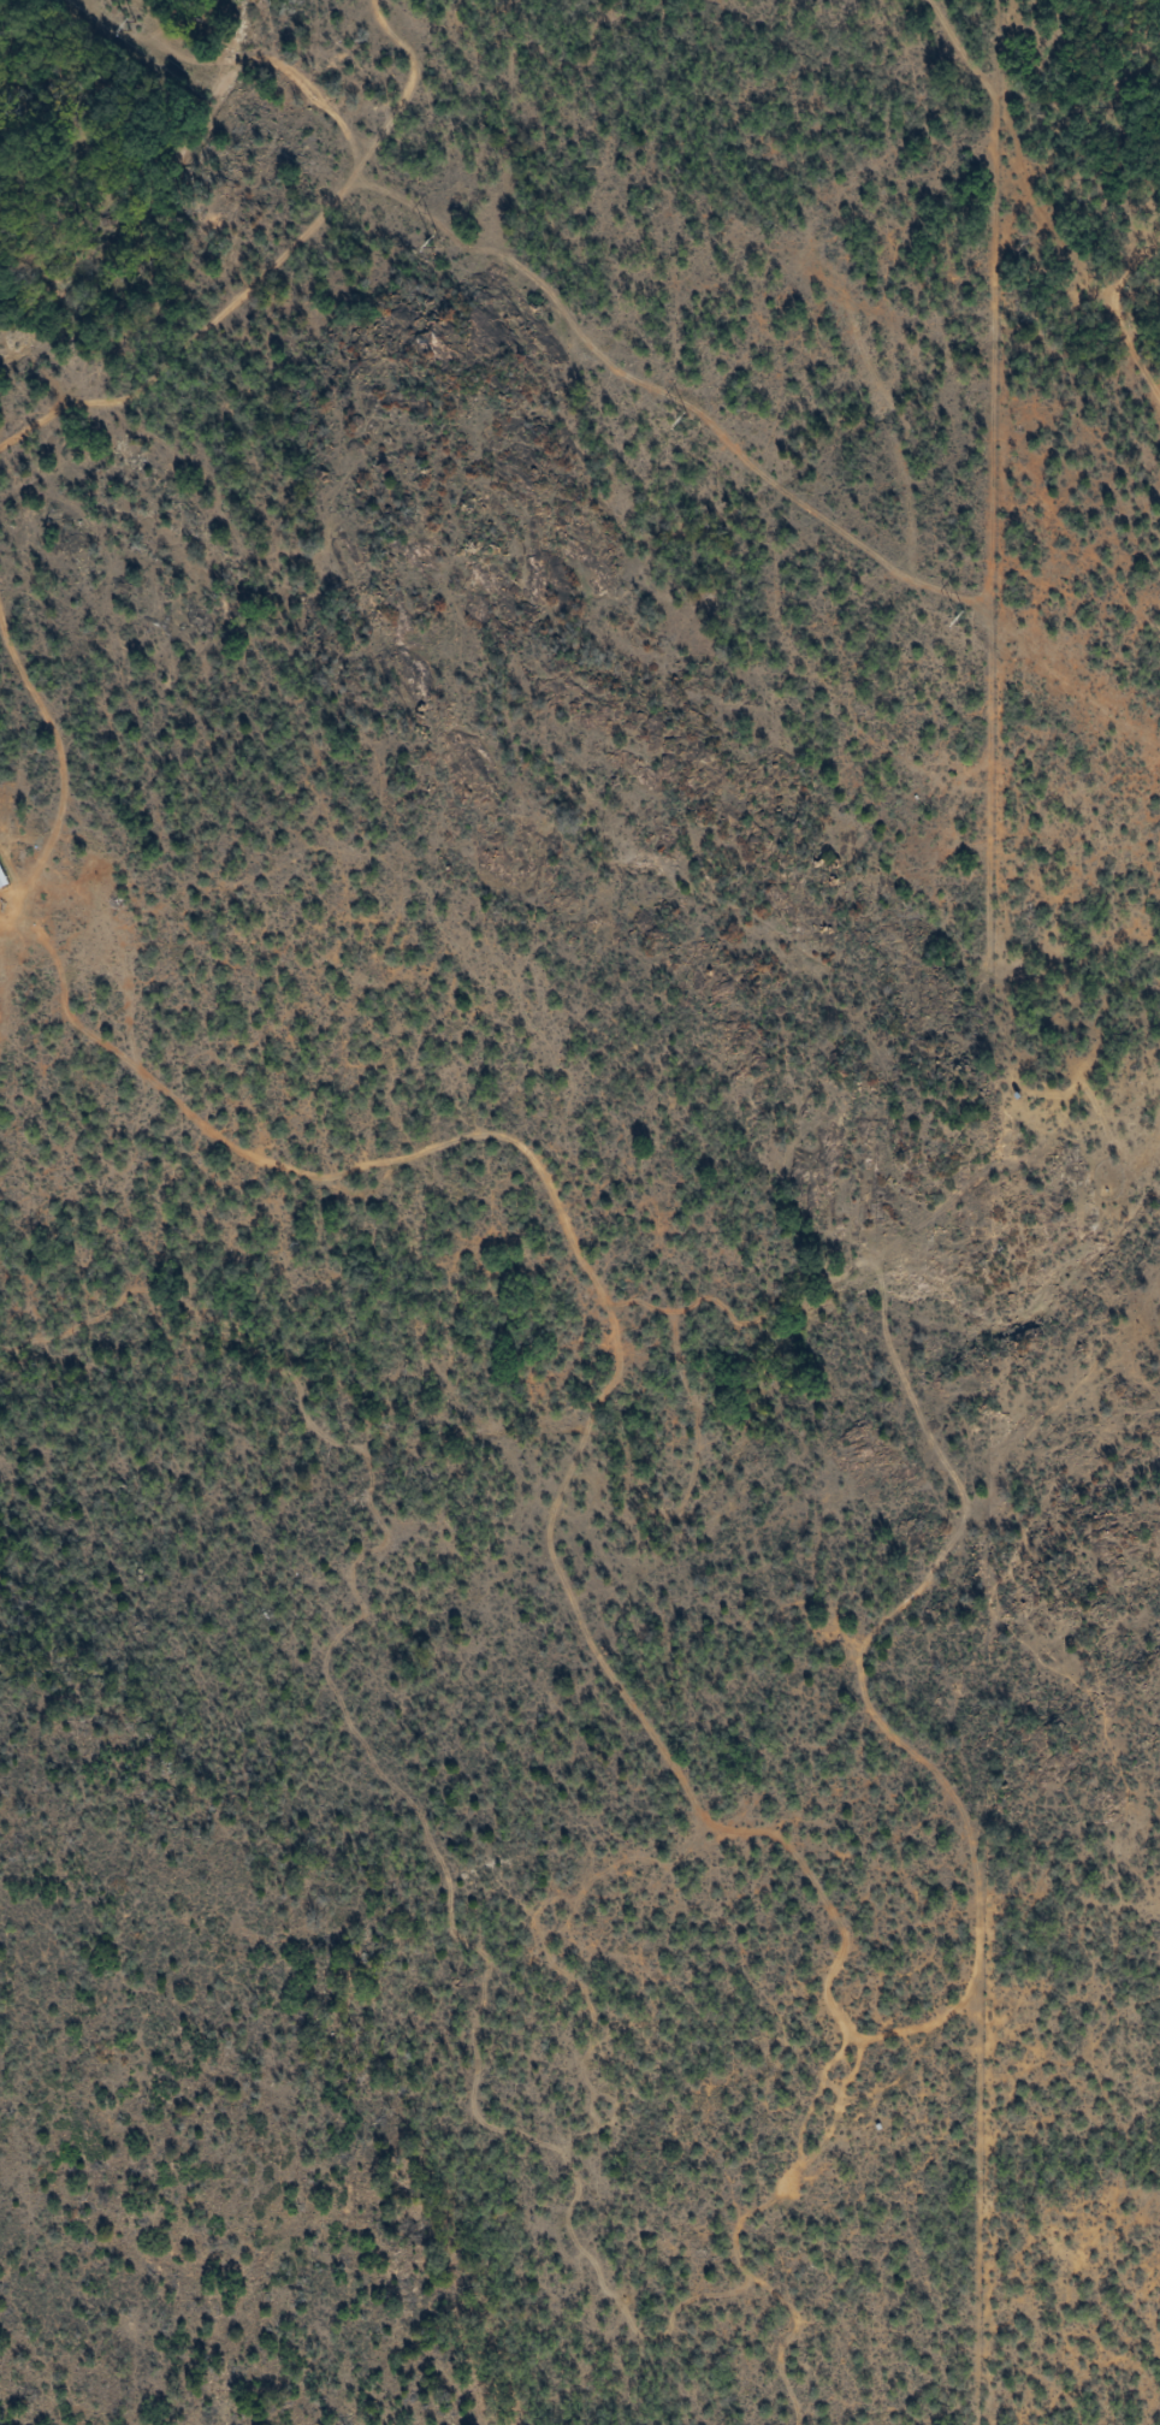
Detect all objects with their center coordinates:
power tower: (130, 28)
road: (1008, 171)
power tower: (432, 243)
power tower: (683, 418)
power tower: (959, 617)

